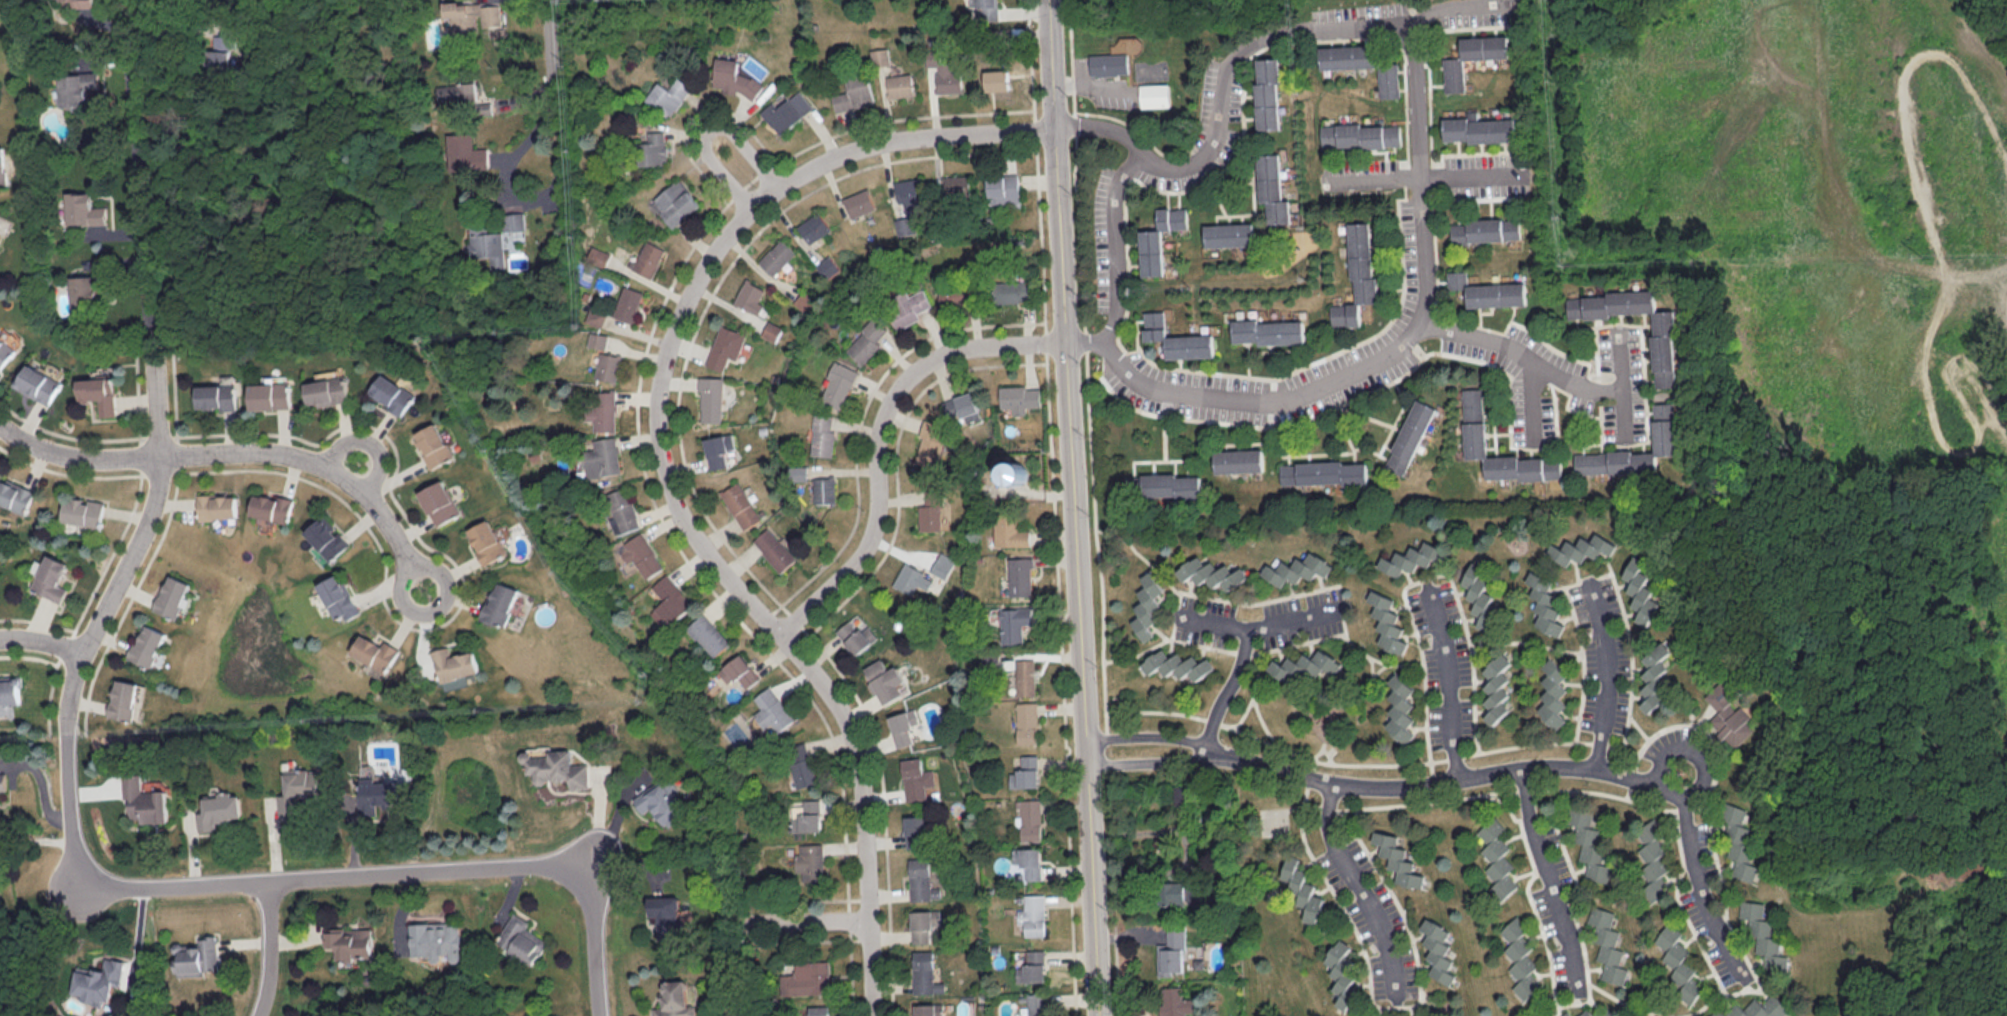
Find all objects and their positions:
building: (86, 3)
building: (988, 9)
road: (149, 14)
building: (472, 15)
road: (1465, 15)
building: (1486, 47)
building: (219, 53)
building: (881, 59)
building: (1109, 63)
road: (1050, 64)
building: (1362, 64)
building: (1454, 74)
building: (735, 78)
building: (950, 79)
building: (997, 79)
building: (901, 84)
building: (77, 86)
building: (1269, 93)
building: (854, 94)
building: (1155, 94)
building: (668, 95)
building: (464, 96)
road: (550, 106)
building: (787, 111)
road: (1105, 128)
building: (1479, 128)
building: (1360, 135)
building: (653, 148)
building: (465, 153)
building: (3, 166)
road: (1463, 175)
road: (745, 176)
road: (1378, 176)
building: (954, 186)
building: (1272, 188)
building: (1002, 189)
building: (907, 190)
building: (673, 202)
building: (857, 202)
road: (1423, 203)
building: (84, 209)
building: (512, 220)
building: (812, 227)
building: (1484, 229)
building: (1229, 234)
road: (1058, 235)
building: (1160, 239)
road: (1117, 243)
building: (486, 245)
building: (596, 256)
building: (775, 256)
building: (645, 258)
road: (147, 259)
building: (825, 265)
building: (1357, 274)
building: (1012, 290)
building: (1488, 290)
building: (82, 292)
building: (955, 294)
building: (747, 296)
building: (625, 303)
building: (905, 306)
building: (594, 315)
building: (769, 330)
building: (1268, 331)
building: (1177, 338)
building: (596, 339)
building: (864, 341)
building: (722, 346)
building: (5, 351)
road: (1510, 351)
building: (1663, 352)
building: (607, 366)
building: (38, 383)
building: (836, 384)
road: (1587, 385)
building: (325, 391)
building: (99, 393)
building: (388, 393)
building: (270, 395)
building: (218, 396)
building: (1019, 397)
building: (709, 398)
building: (960, 406)
building: (602, 410)
building: (1475, 421)
building: (1662, 426)
building: (821, 434)
road: (874, 436)
building: (1409, 436)
road: (368, 441)
building: (929, 442)
building: (430, 444)
building: (717, 449)
road: (76, 455)
building: (604, 457)
building: (1239, 460)
road: (308, 462)
road: (663, 469)
building: (796, 472)
building: (1016, 472)
building: (1323, 472)
building: (1163, 485)
building: (822, 489)
building: (15, 494)
building: (438, 502)
building: (739, 504)
building: (218, 505)
building: (273, 507)
building: (622, 510)
building: (84, 512)
building: (929, 512)
building: (1009, 531)
building: (328, 537)
building: (485, 541)
building: (1581, 548)
building: (773, 549)
building: (641, 554)
building: (1404, 561)
building: (941, 564)
building: (1297, 568)
building: (1210, 573)
building: (1020, 576)
building: (53, 577)
building: (911, 578)
building: (1477, 588)
building: (1641, 590)
building: (173, 595)
building: (342, 596)
building: (670, 601)
building: (1544, 603)
building: (499, 604)
building: (1147, 604)
road: (436, 609)
building: (1388, 622)
building: (1015, 623)
road: (1257, 626)
building: (708, 634)
building: (855, 635)
road: (42, 643)
building: (148, 646)
building: (378, 652)
building: (456, 663)
road: (80, 664)
building: (1178, 664)
building: (1304, 667)
building: (739, 671)
road: (1608, 672)
building: (1025, 676)
building: (1654, 676)
road: (1082, 678)
building: (884, 680)
road: (1450, 680)
building: (455, 683)
building: (1496, 688)
building: (10, 689)
road: (1234, 689)
building: (1553, 694)
building: (124, 699)
building: (1401, 708)
building: (772, 709)
building: (1730, 716)
building: (1026, 722)
building: (903, 725)
road: (1150, 738)
road: (1691, 750)
building: (802, 764)
building: (556, 768)
road: (1152, 770)
building: (1025, 772)
building: (915, 778)
road: (1448, 779)
building: (3, 781)
road: (39, 785)
building: (298, 790)
building: (378, 794)
building: (143, 800)
building: (662, 801)
building: (219, 810)
building: (811, 815)
building: (1029, 818)
building: (915, 832)
building: (1739, 843)
building: (1588, 846)
building: (1497, 858)
building: (1397, 859)
building: (811, 861)
building: (1031, 862)
building: (1652, 865)
road: (413, 874)
building: (921, 880)
road: (1549, 886)
building: (1303, 890)
road: (1361, 890)
road: (1700, 892)
building: (1176, 893)
building: (1033, 914)
building: (666, 915)
road: (803, 920)
building: (924, 925)
building: (1763, 934)
building: (521, 938)
building: (435, 939)
building: (349, 942)
road: (138, 943)
building: (1606, 944)
road: (270, 949)
building: (1437, 949)
building: (1171, 953)
building: (194, 956)
building: (1520, 958)
building: (1678, 963)
building: (1032, 966)
building: (924, 973)
building: (1342, 973)
building: (807, 978)
building: (101, 980)
building: (674, 1000)
building: (1174, 1002)
building: (1036, 1005)
building: (1755, 1008)
building: (929, 1009)
building: (819, 1010)
building: (1565, 1013)
building: (1584, 1013)
building: (1604, 1013)
building: (1404, 1014)
building: (1546, 1014)
building: (1386, 1015)

